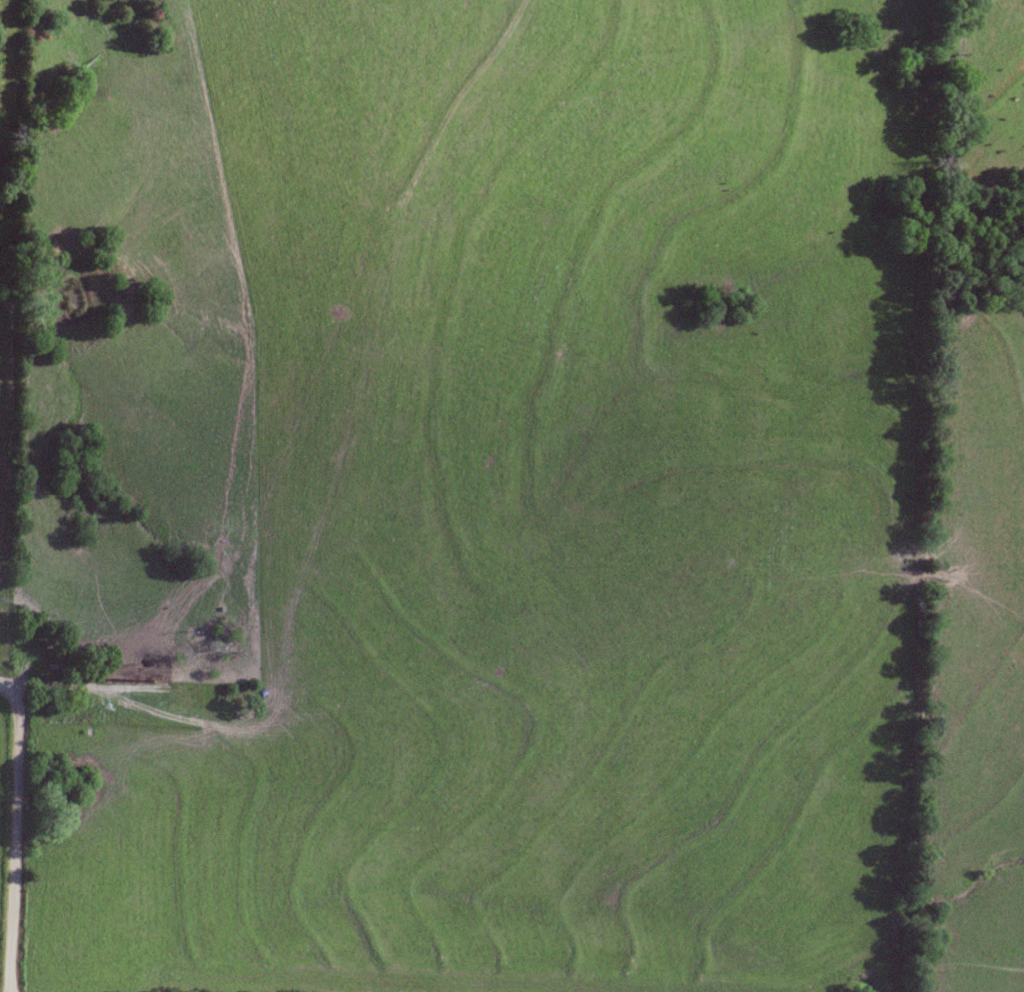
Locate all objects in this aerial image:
road: (14, 836)
road: (9, 990)

